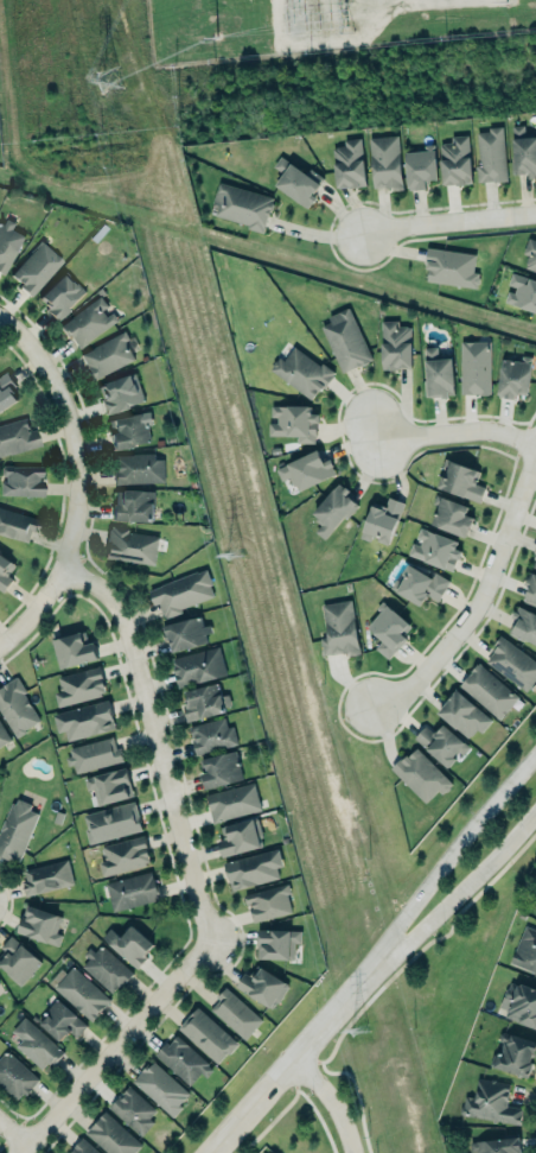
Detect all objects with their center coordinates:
power substation: (313, 24)
power tower: (107, 82)
building: (523, 148)
building: (490, 154)
building: (454, 158)
building: (383, 159)
building: (349, 161)
building: (420, 166)
building: (296, 179)
building: (241, 205)
road: (449, 222)
building: (7, 241)
building: (530, 254)
building: (34, 266)
building: (451, 266)
building: (521, 292)
building: (59, 294)
building: (88, 321)
building: (345, 340)
building: (394, 344)
building: (107, 354)
building: (474, 365)
building: (302, 370)
building: (436, 373)
building: (512, 376)
building: (6, 391)
building: (120, 392)
building: (294, 420)
building: (128, 429)
road: (76, 431)
road: (458, 433)
building: (15, 435)
building: (136, 468)
building: (305, 468)
building: (21, 479)
building: (460, 479)
building: (133, 502)
building: (333, 508)
building: (449, 513)
building: (378, 517)
building: (17, 522)
building: (130, 545)
building: (435, 547)
power tower: (230, 549)
building: (534, 559)
building: (5, 570)
building: (419, 582)
building: (531, 588)
building: (180, 593)
road: (480, 596)
road: (33, 608)
building: (523, 622)
building: (339, 627)
building: (388, 627)
building: (186, 632)
building: (72, 647)
building: (512, 661)
building: (198, 665)
building: (79, 685)
building: (487, 689)
building: (204, 702)
building: (15, 705)
building: (462, 715)
building: (84, 718)
building: (2, 735)
building: (211, 735)
building: (441, 740)
building: (92, 753)
building: (219, 767)
building: (420, 774)
building: (109, 784)
building: (231, 802)
building: (111, 821)
building: (15, 826)
building: (240, 835)
building: (123, 854)
road: (445, 862)
building: (253, 868)
building: (45, 876)
road: (191, 876)
building: (130, 889)
road: (453, 897)
building: (268, 901)
building: (535, 906)
building: (39, 923)
building: (277, 942)
building: (128, 944)
building: (525, 949)
building: (17, 958)
building: (106, 968)
building: (263, 986)
building: (82, 993)
building: (521, 1003)
building: (235, 1011)
building: (58, 1015)
power tower: (363, 1031)
building: (205, 1032)
building: (36, 1041)
building: (513, 1053)
building: (183, 1058)
road: (287, 1064)
building: (14, 1075)
building: (160, 1087)
road: (331, 1100)
building: (490, 1102)
building: (133, 1109)
road: (14, 1132)
building: (111, 1134)
building: (496, 1145)
building: (83, 1148)

